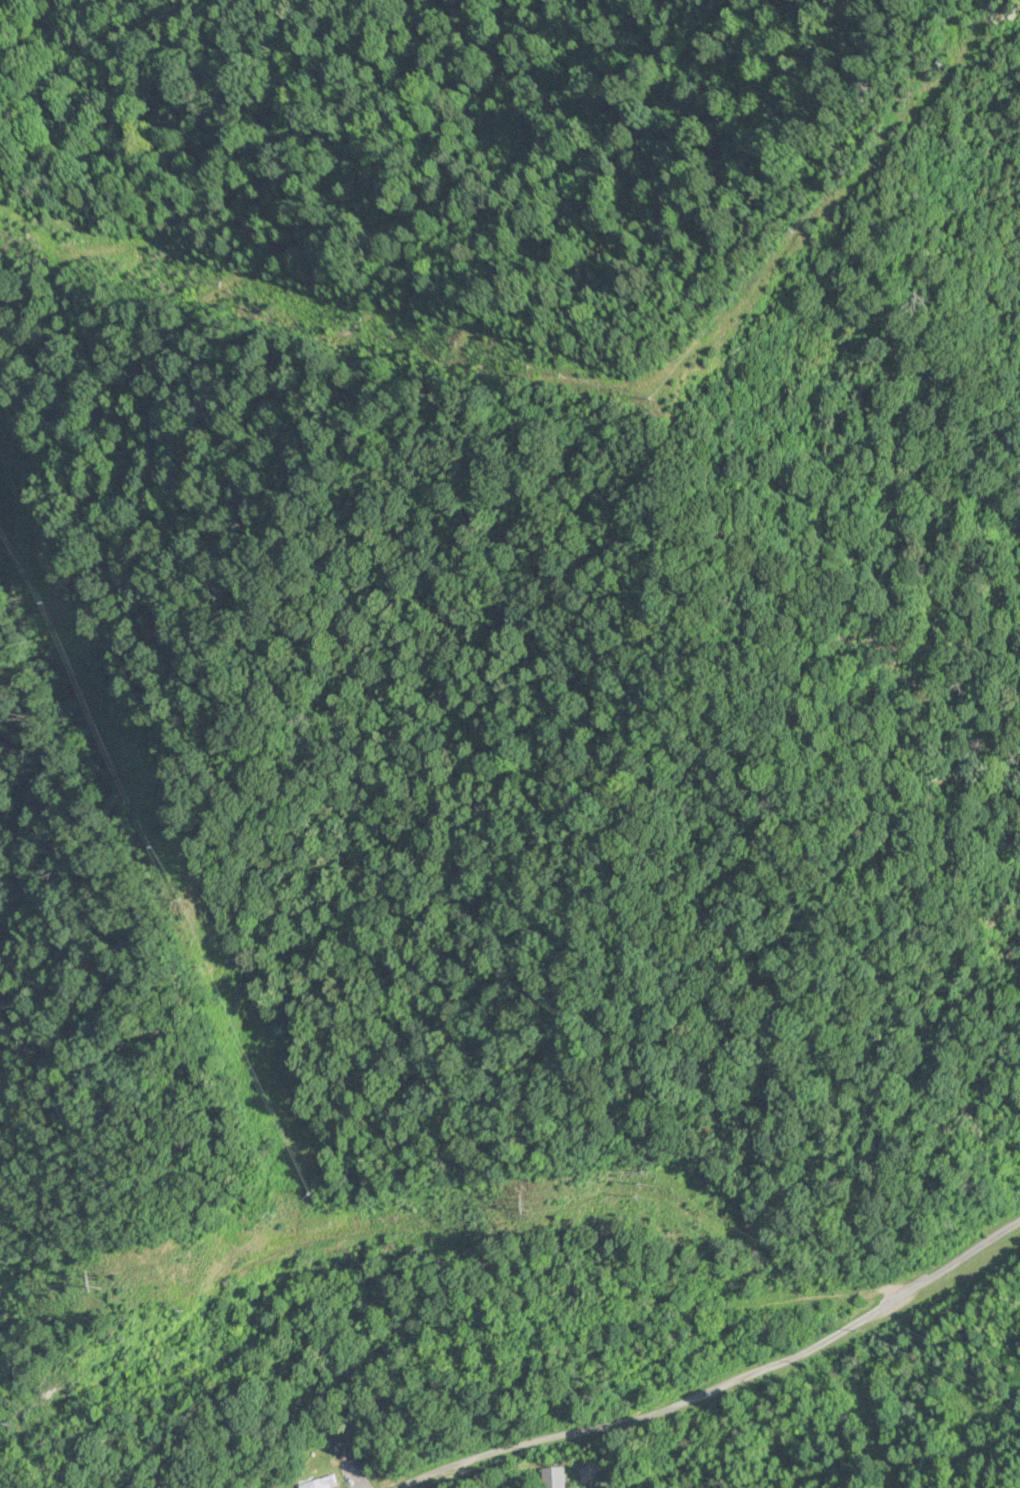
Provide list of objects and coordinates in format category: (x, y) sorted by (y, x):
road: (724, 1384)
building: (326, 1479)

